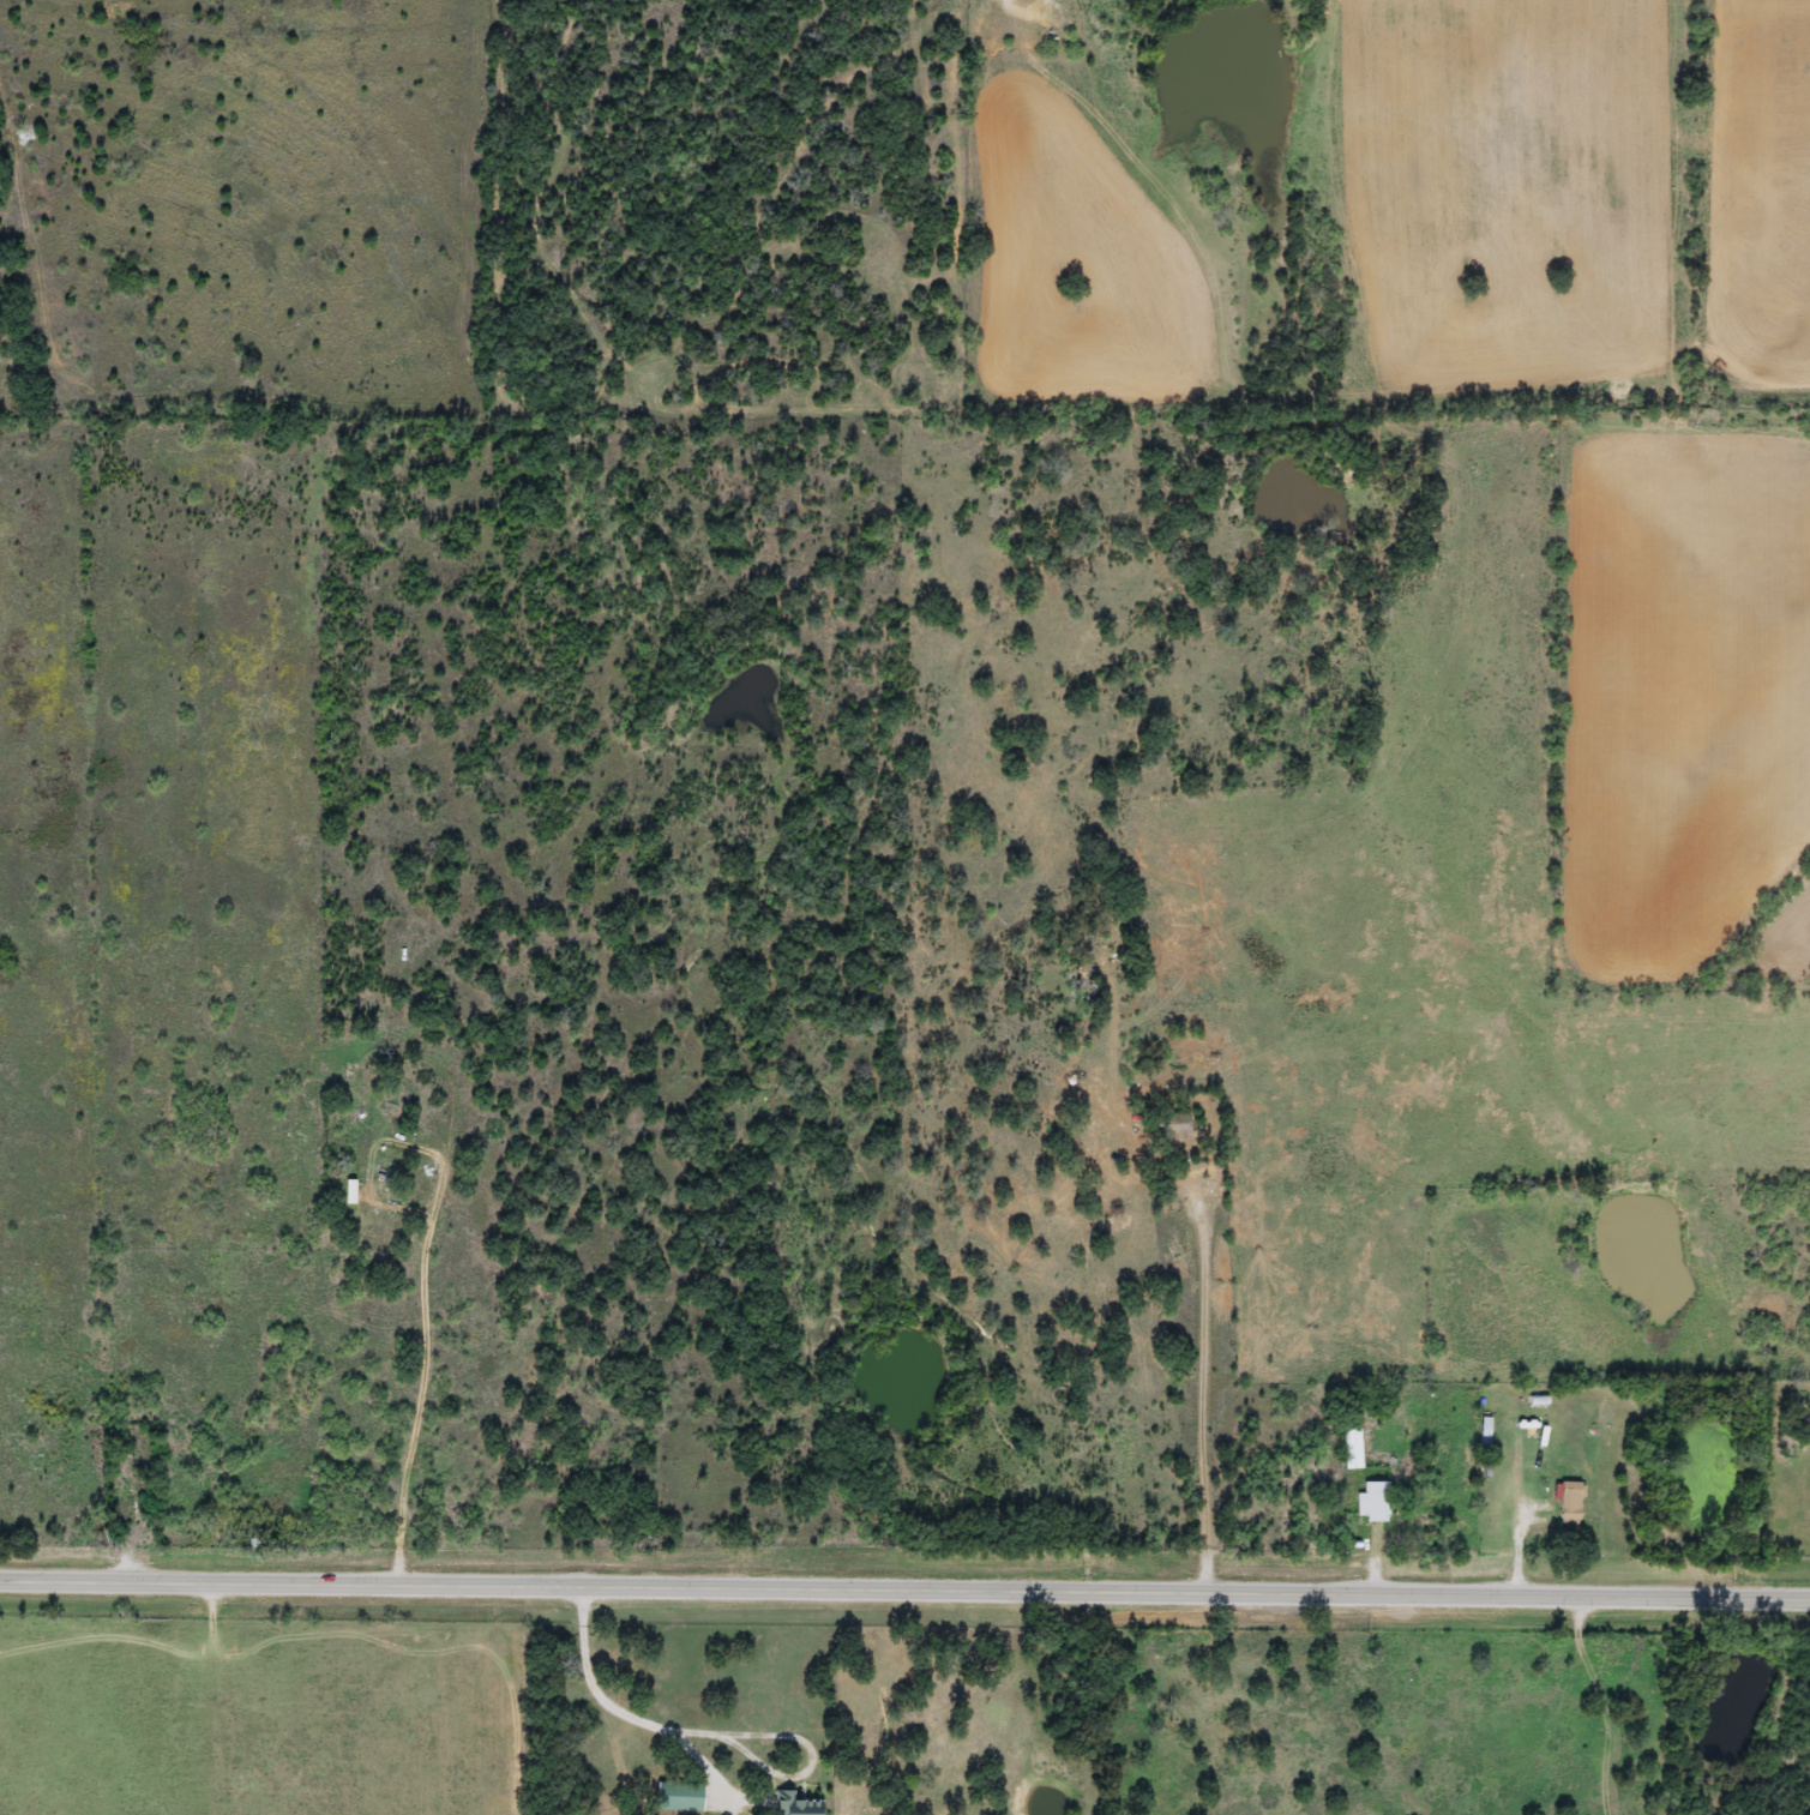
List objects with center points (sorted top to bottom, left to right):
building: (1173, 1126)
road: (426, 1310)
road: (1203, 1386)
building: (1349, 1448)
building: (1372, 1500)
building: (1568, 1502)
road: (1521, 1535)
road: (904, 1586)
road: (1580, 1703)
road: (632, 1718)
building: (677, 1797)
building: (792, 1804)

